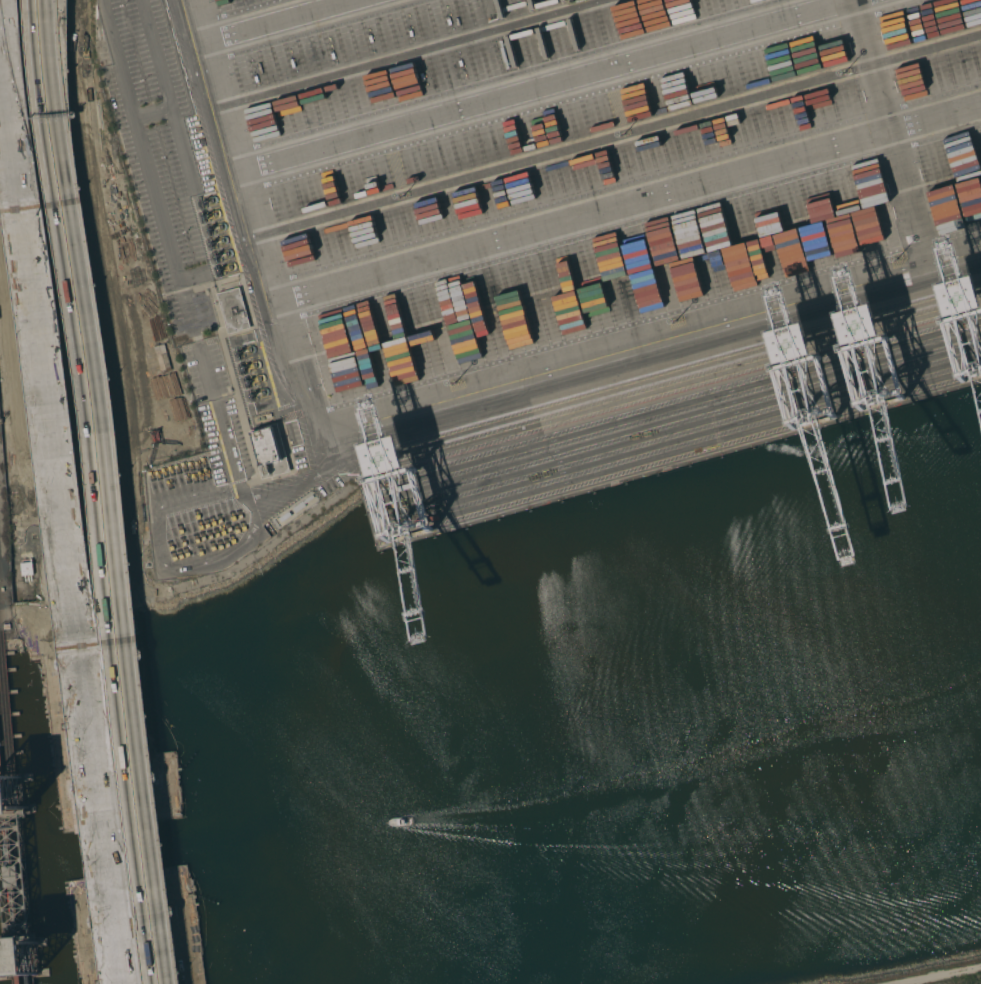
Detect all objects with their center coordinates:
road: (279, 19)
road: (168, 94)
road: (174, 264)
road: (275, 292)
building: (233, 310)
pier: (674, 431)
railway: (685, 440)
building: (266, 446)
road: (103, 491)
road: (63, 522)
road: (156, 547)
railway: (6, 738)
railway: (2, 790)
railway: (18, 875)
railway: (9, 876)
railway: (25, 961)
railway: (16, 962)

